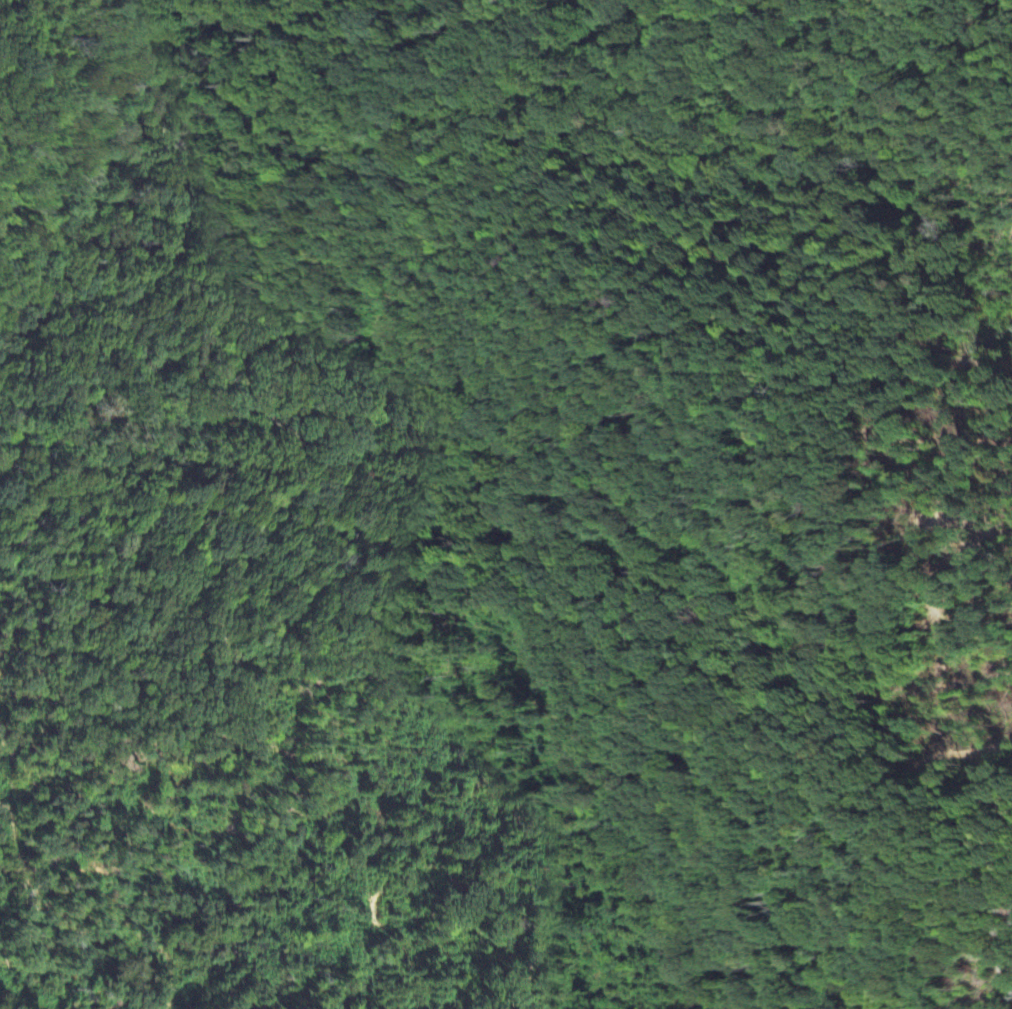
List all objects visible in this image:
road: (3, 8)
road: (177, 105)
road: (278, 513)

